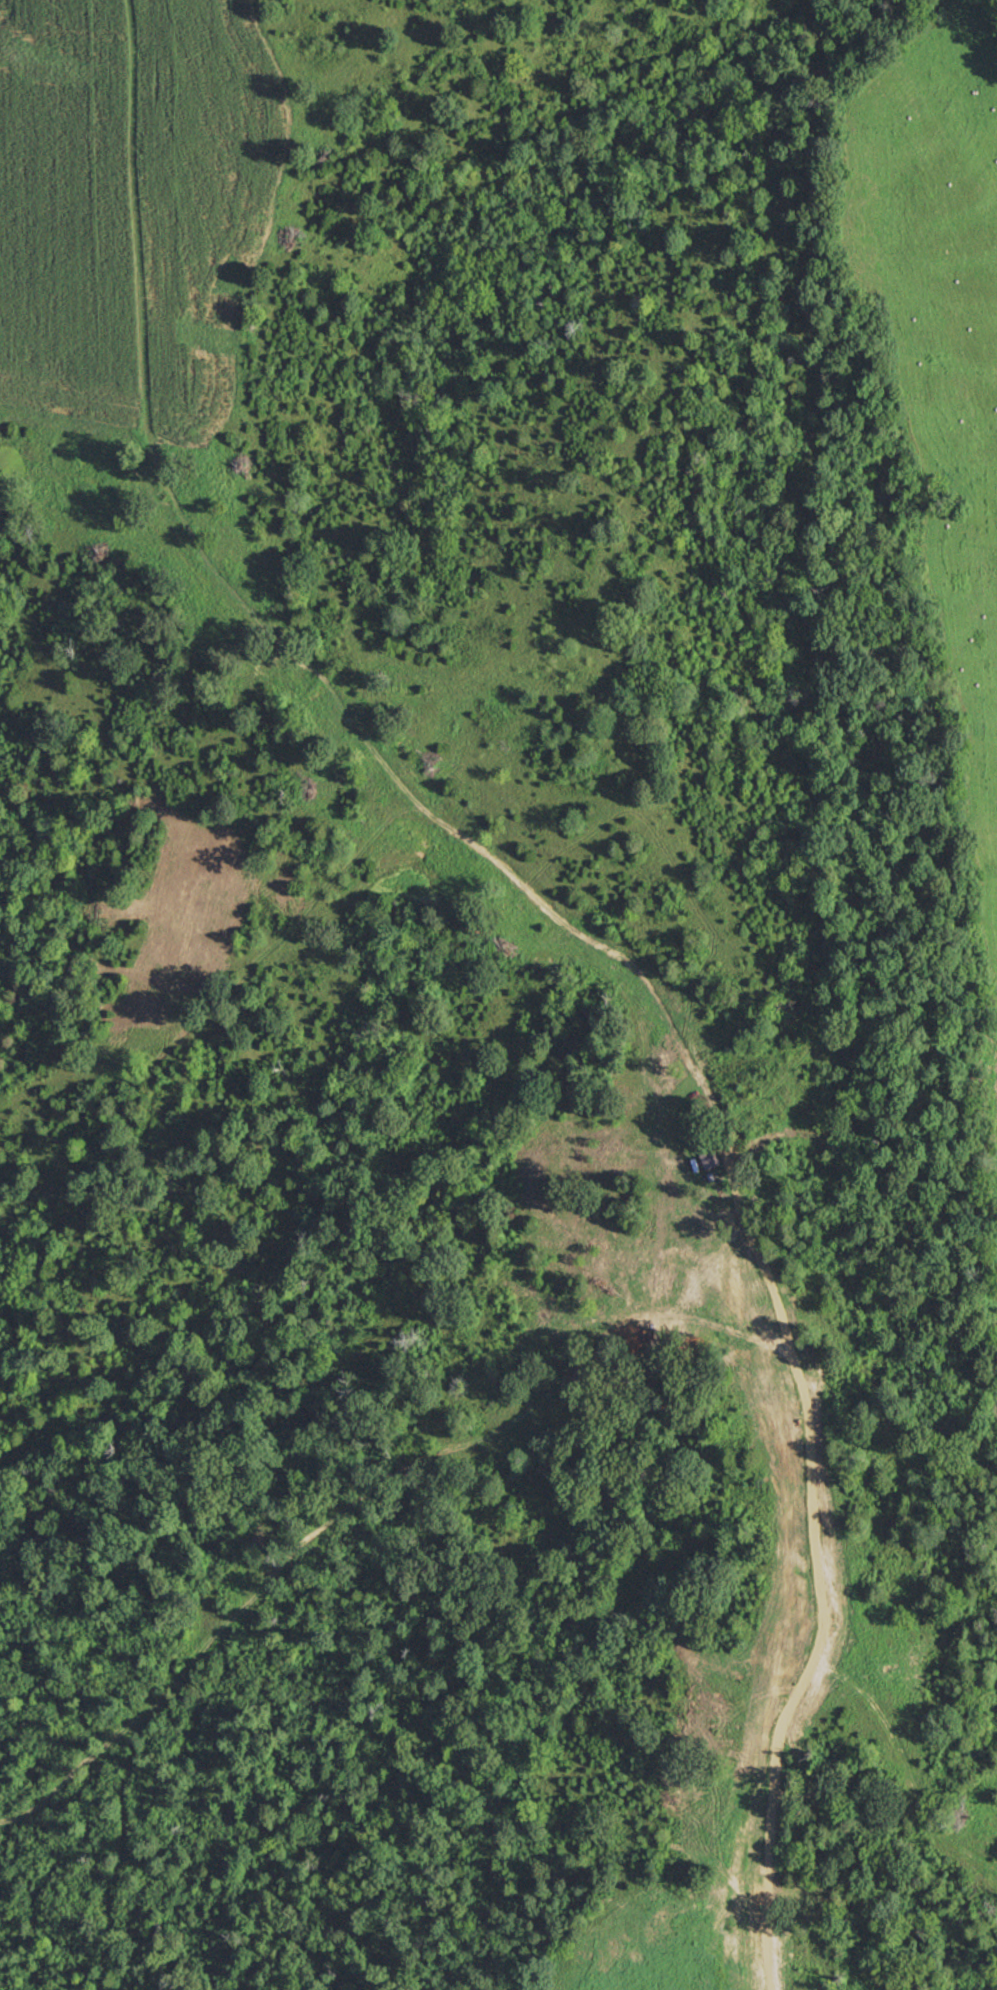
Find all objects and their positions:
road: (675, 1010)
building: (708, 1160)

